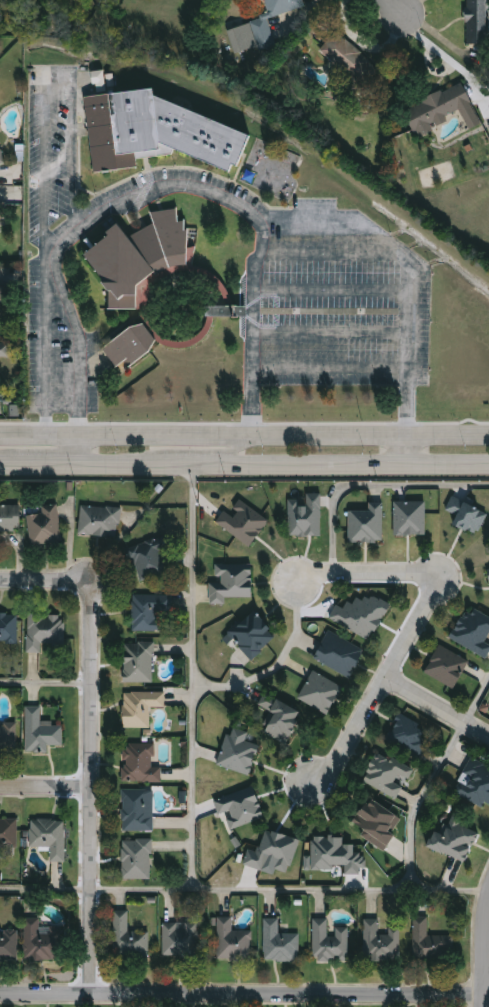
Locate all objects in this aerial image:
road: (388, 8)
building: (477, 22)
building: (260, 26)
building: (350, 60)
building: (441, 109)
building: (156, 133)
building: (0, 163)
road: (45, 168)
building: (3, 211)
road: (249, 214)
road: (305, 216)
road: (329, 252)
building: (141, 259)
road: (49, 263)
road: (332, 289)
building: (4, 290)
building: (219, 311)
road: (408, 315)
parking lot: (322, 316)
road: (77, 333)
road: (331, 333)
building: (131, 347)
building: (4, 354)
road: (330, 368)
road: (61, 408)
road: (76, 422)
road: (244, 439)
road: (74, 449)
road: (236, 451)
road: (407, 451)
road: (7, 463)
road: (44, 463)
road: (124, 463)
road: (205, 463)
road: (362, 463)
road: (371, 485)
building: (466, 515)
building: (305, 516)
building: (409, 517)
building: (10, 518)
building: (100, 520)
building: (242, 522)
building: (368, 524)
building: (45, 526)
building: (151, 558)
road: (364, 573)
building: (488, 573)
building: (231, 582)
building: (150, 612)
building: (360, 615)
building: (9, 628)
building: (45, 631)
building: (473, 631)
building: (254, 635)
building: (339, 654)
building: (139, 663)
building: (446, 666)
road: (273, 668)
road: (44, 683)
road: (379, 687)
building: (320, 692)
road: (436, 707)
building: (141, 708)
building: (280, 718)
building: (41, 732)
building: (409, 737)
building: (8, 738)
road: (88, 740)
building: (237, 752)
building: (140, 763)
building: (388, 775)
road: (430, 779)
building: (475, 784)
road: (44, 789)
building: (240, 807)
building: (138, 811)
road: (190, 821)
building: (377, 824)
building: (9, 834)
building: (455, 837)
building: (49, 838)
building: (273, 851)
building: (333, 855)
building: (138, 860)
road: (44, 889)
road: (148, 889)
building: (129, 939)
building: (182, 939)
building: (42, 942)
building: (232, 942)
building: (382, 942)
building: (280, 943)
building: (330, 943)
building: (430, 943)
building: (9, 947)
road: (483, 952)
road: (241, 993)

